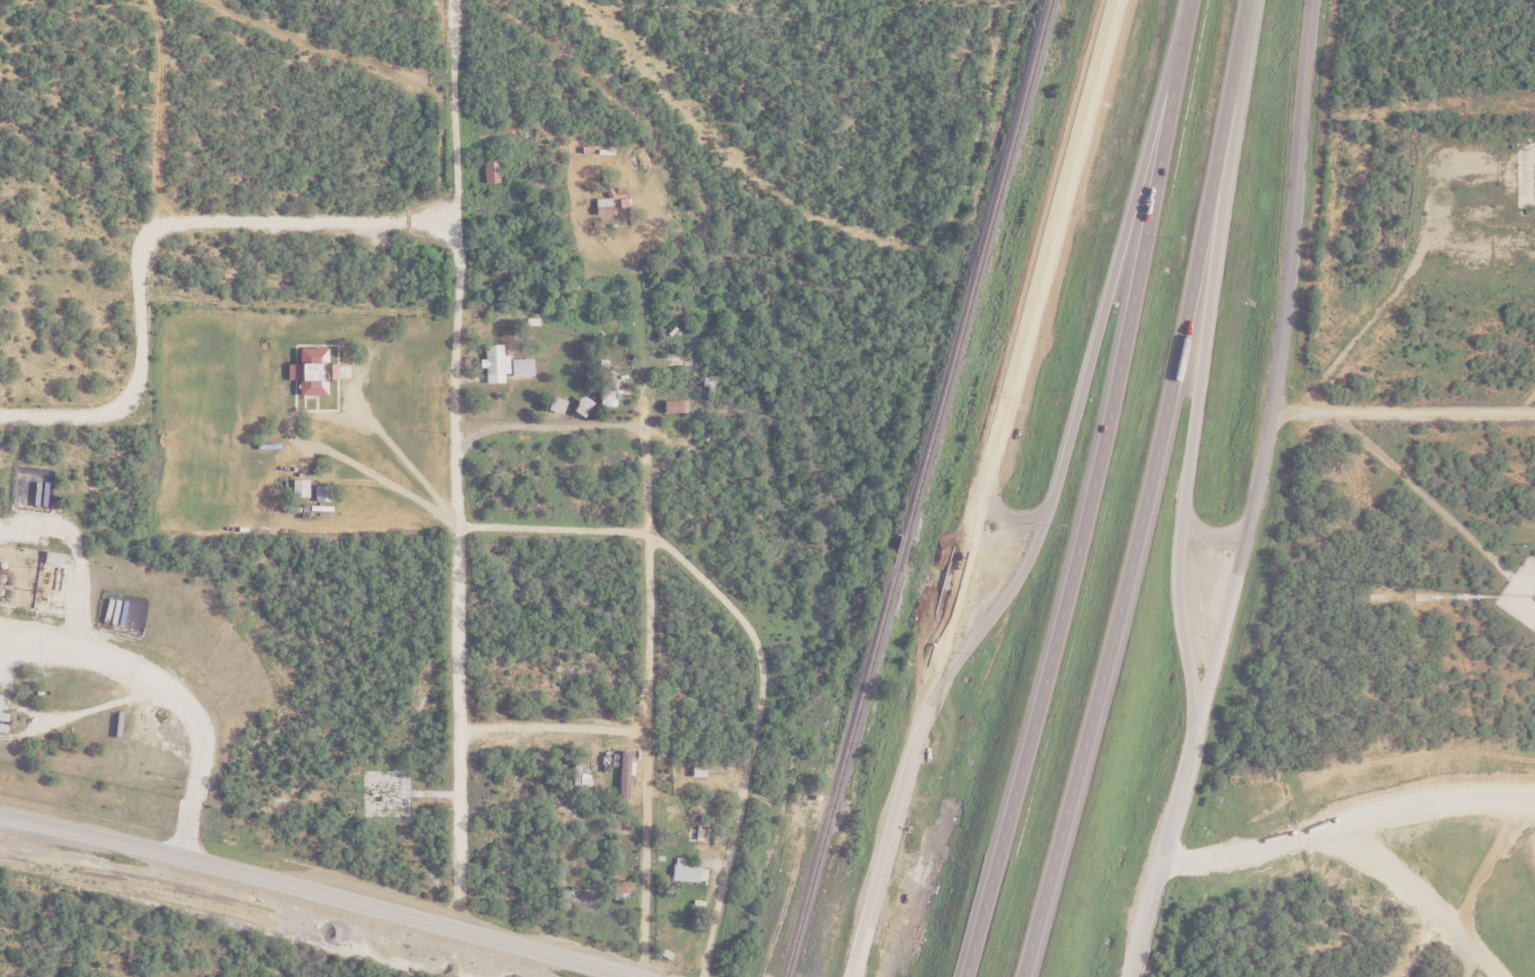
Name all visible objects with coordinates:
building: (488, 170)
road: (643, 339)
road: (1018, 352)
road: (1199, 365)
road: (1275, 370)
building: (309, 371)
building: (605, 385)
road: (1081, 385)
building: (554, 404)
building: (672, 405)
building: (579, 406)
road: (1402, 410)
road: (544, 426)
road: (455, 464)
building: (297, 488)
railway: (914, 488)
road: (1090, 491)
road: (1147, 491)
building: (319, 493)
road: (1000, 516)
road: (551, 528)
road: (1206, 537)
road: (647, 702)
road: (551, 729)
road: (753, 733)
building: (691, 832)
road: (888, 841)
road: (1161, 855)
building: (686, 872)
road: (319, 893)

